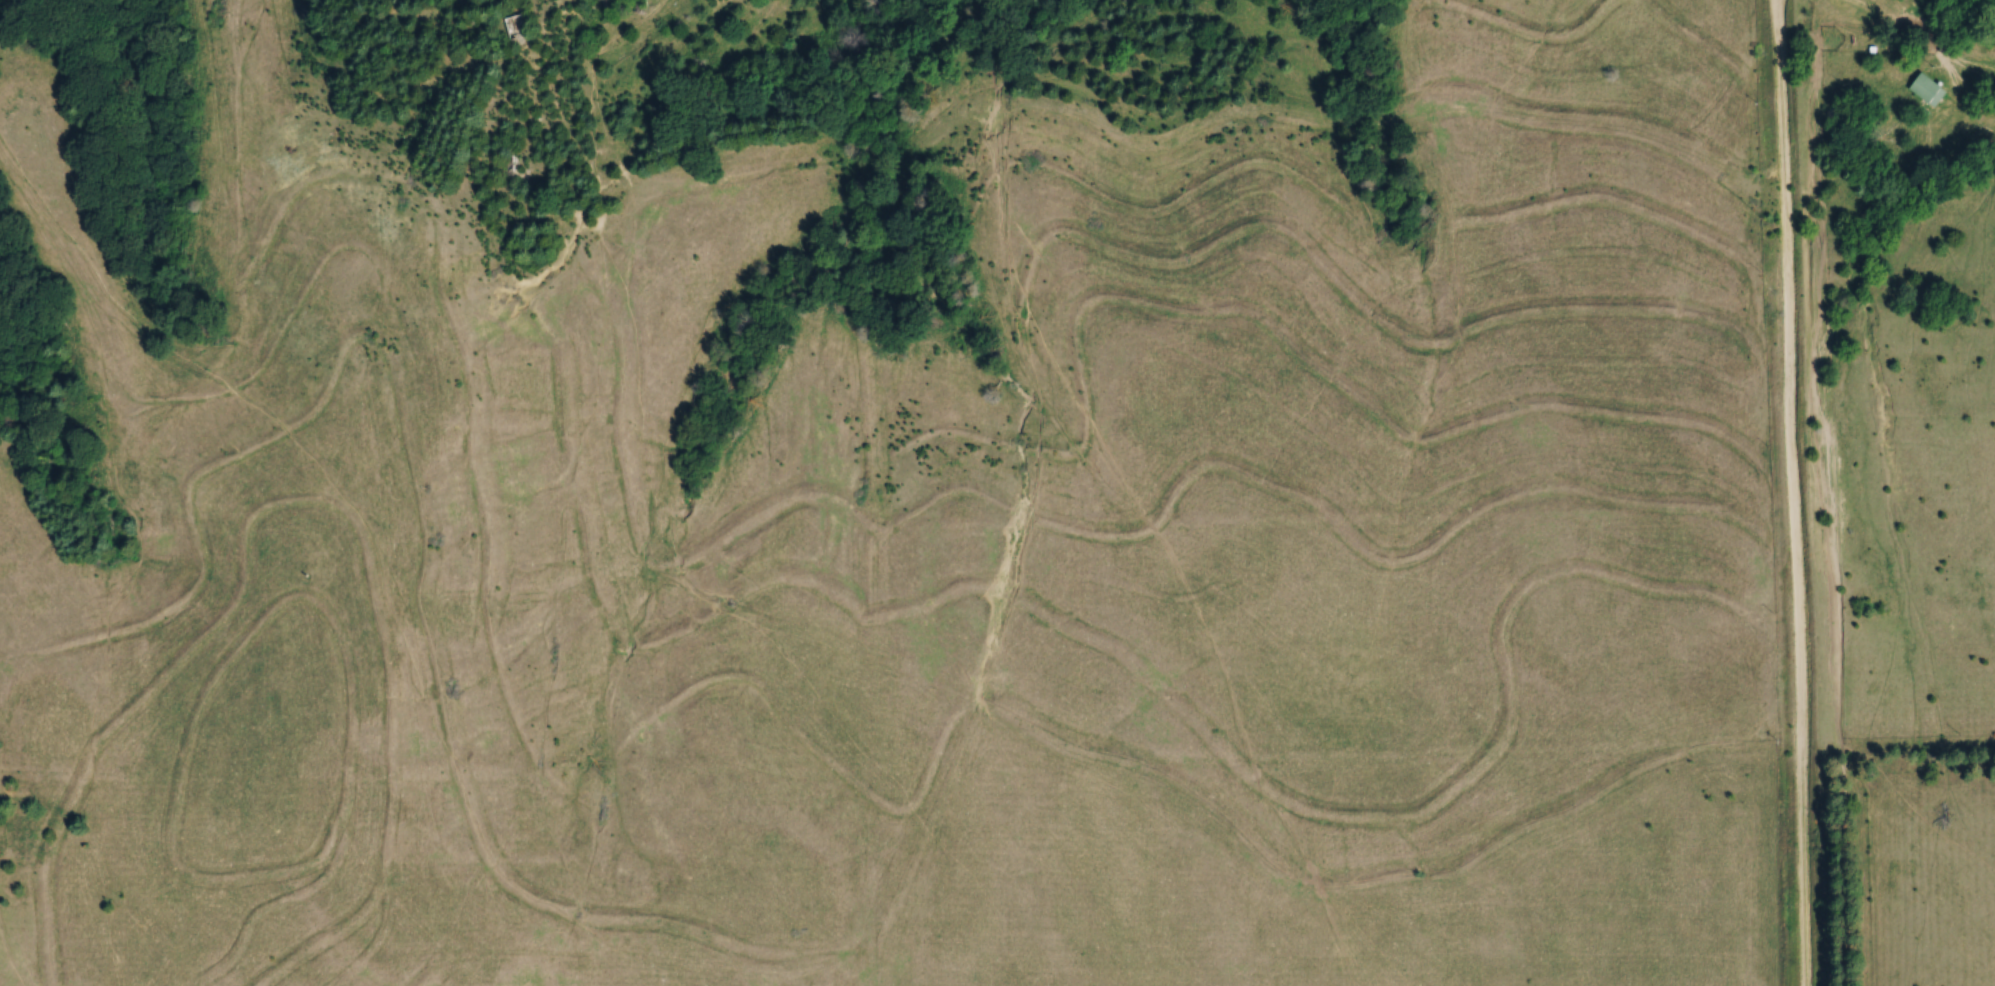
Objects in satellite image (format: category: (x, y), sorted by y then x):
building: (1930, 84)
road: (1790, 492)

